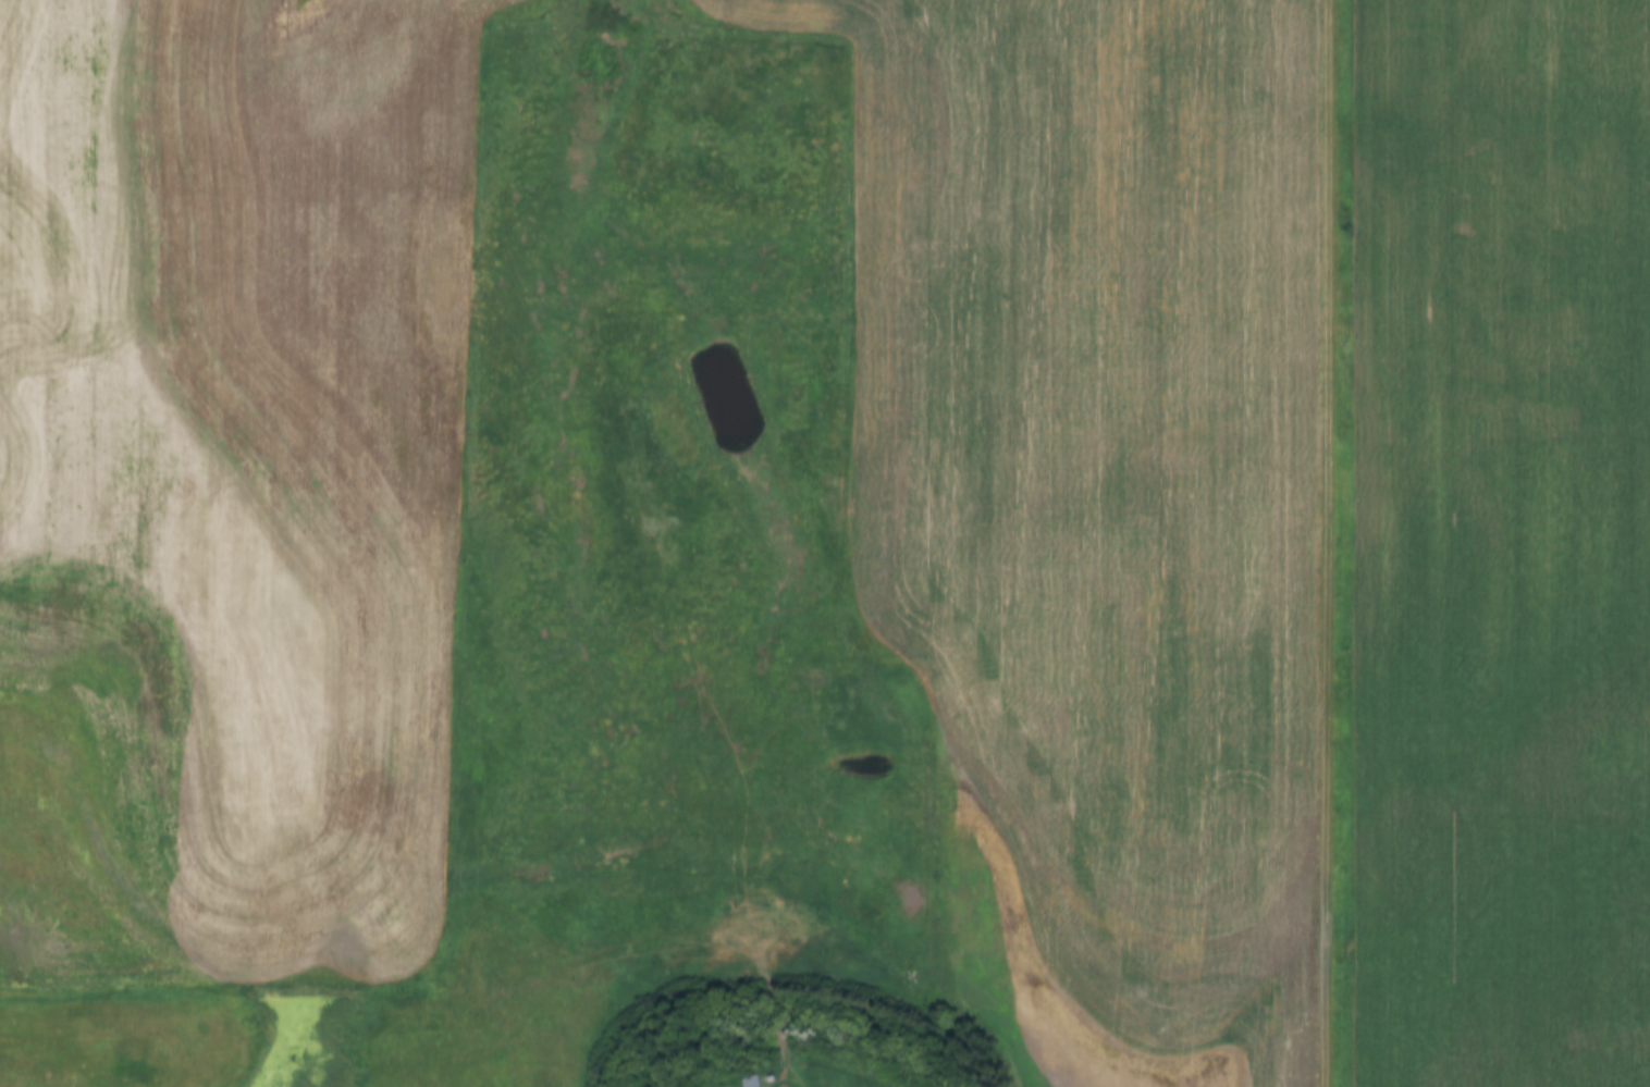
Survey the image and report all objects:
road: (220, 988)
building: (756, 1082)

